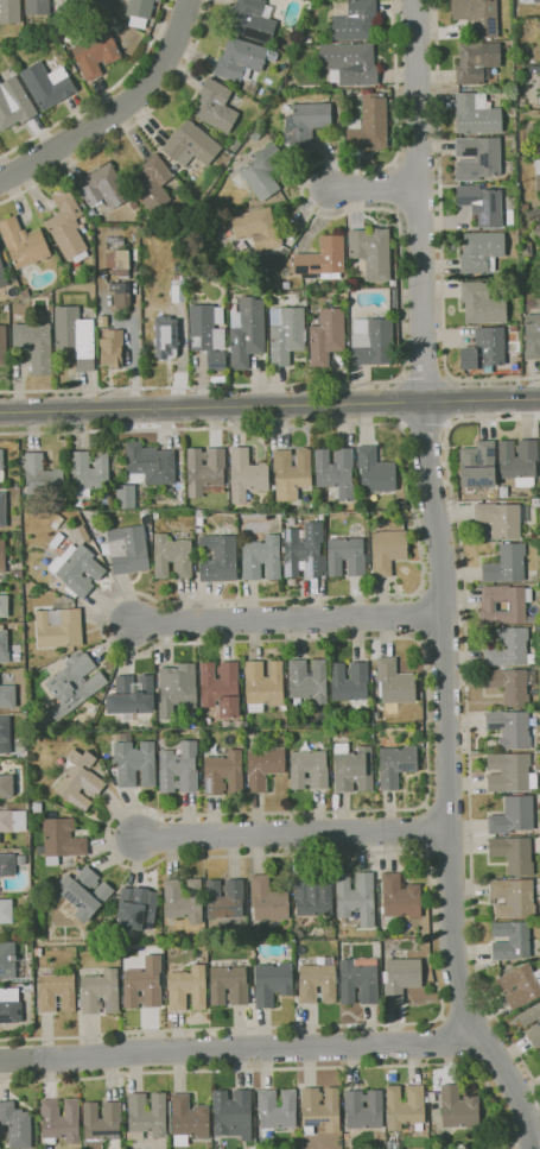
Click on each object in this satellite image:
building: (159, 0)
building: (528, 1)
building: (91, 5)
building: (37, 7)
building: (9, 12)
building: (139, 12)
building: (478, 15)
building: (354, 19)
building: (253, 20)
building: (96, 55)
building: (240, 59)
building: (477, 62)
building: (350, 64)
building: (290, 83)
building: (47, 84)
building: (309, 87)
road: (101, 95)
building: (14, 103)
building: (216, 106)
road: (116, 111)
building: (477, 114)
building: (306, 122)
building: (369, 124)
road: (131, 125)
building: (191, 145)
building: (477, 158)
building: (263, 171)
building: (538, 175)
building: (152, 183)
building: (103, 187)
road: (375, 189)
road: (419, 200)
building: (134, 204)
building: (482, 204)
building: (525, 207)
building: (140, 212)
building: (534, 214)
building: (152, 219)
building: (68, 225)
building: (258, 228)
building: (538, 231)
road: (440, 235)
building: (93, 236)
building: (24, 242)
building: (114, 242)
building: (526, 248)
building: (371, 252)
building: (481, 252)
building: (322, 258)
building: (117, 259)
building: (9, 270)
building: (2, 274)
building: (277, 286)
building: (179, 288)
building: (26, 293)
building: (121, 295)
road: (400, 301)
building: (482, 303)
building: (6, 308)
building: (247, 333)
building: (209, 334)
building: (286, 334)
building: (532, 335)
building: (75, 336)
building: (326, 336)
building: (165, 337)
building: (371, 341)
building: (36, 345)
building: (2, 346)
building: (112, 348)
building: (484, 349)
road: (134, 352)
road: (424, 380)
road: (269, 405)
road: (424, 422)
building: (539, 443)
building: (519, 461)
building: (150, 465)
building: (477, 465)
building: (1, 466)
building: (90, 471)
building: (207, 471)
building: (292, 472)
building: (336, 472)
building: (375, 472)
building: (247, 474)
building: (43, 475)
building: (122, 490)
building: (503, 492)
building: (159, 493)
building: (535, 501)
building: (400, 505)
building: (2, 510)
building: (202, 513)
building: (502, 518)
building: (81, 534)
building: (57, 539)
building: (128, 549)
building: (304, 550)
building: (388, 550)
building: (2, 556)
building: (172, 556)
building: (345, 556)
building: (262, 557)
building: (218, 558)
building: (8, 562)
building: (506, 564)
building: (77, 568)
building: (18, 574)
building: (4, 605)
building: (517, 605)
building: (533, 618)
road: (292, 620)
building: (58, 627)
building: (4, 645)
building: (508, 646)
building: (17, 657)
building: (307, 680)
building: (349, 681)
building: (394, 682)
building: (75, 684)
building: (263, 684)
building: (512, 684)
building: (222, 687)
building: (177, 688)
building: (7, 696)
building: (132, 696)
building: (244, 700)
building: (285, 708)
road: (466, 718)
building: (40, 722)
building: (233, 724)
building: (198, 726)
building: (510, 727)
building: (5, 734)
building: (371, 736)
road: (427, 738)
building: (135, 762)
building: (538, 763)
building: (396, 764)
building: (263, 766)
building: (179, 768)
building: (352, 768)
building: (309, 769)
building: (224, 772)
building: (510, 772)
building: (80, 779)
road: (449, 783)
building: (6, 785)
building: (336, 800)
building: (37, 807)
building: (513, 815)
building: (13, 820)
road: (298, 832)
building: (62, 839)
building: (514, 854)
building: (7, 864)
building: (83, 891)
building: (313, 895)
building: (356, 896)
building: (401, 897)
building: (514, 897)
building: (224, 898)
building: (184, 899)
building: (268, 899)
building: (136, 908)
building: (6, 910)
building: (512, 941)
building: (38, 952)
building: (253, 954)
building: (7, 960)
building: (401, 978)
building: (358, 979)
building: (273, 983)
building: (317, 983)
building: (144, 984)
building: (229, 985)
building: (520, 985)
building: (189, 987)
building: (56, 992)
building: (101, 992)
building: (11, 1005)
building: (529, 1015)
building: (534, 1034)
road: (445, 1041)
road: (241, 1048)
building: (539, 1052)
road: (293, 1069)
building: (432, 1096)
building: (427, 1099)
building: (405, 1106)
building: (123, 1107)
building: (277, 1109)
building: (364, 1109)
building: (458, 1109)
building: (320, 1110)
building: (234, 1113)
building: (147, 1115)
building: (189, 1119)
building: (61, 1120)
building: (103, 1122)
building: (17, 1124)
building: (382, 1145)
building: (390, 1145)

